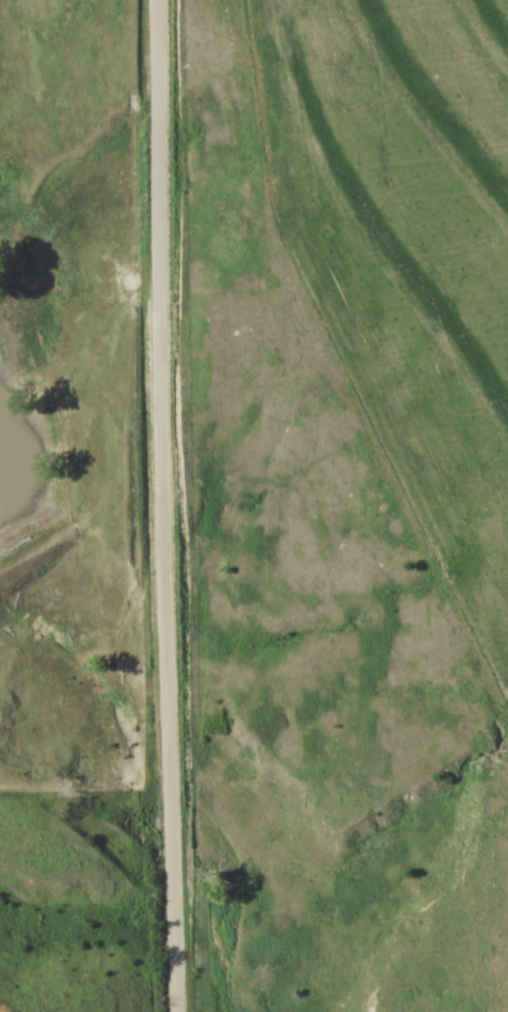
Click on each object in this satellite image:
road: (166, 506)

